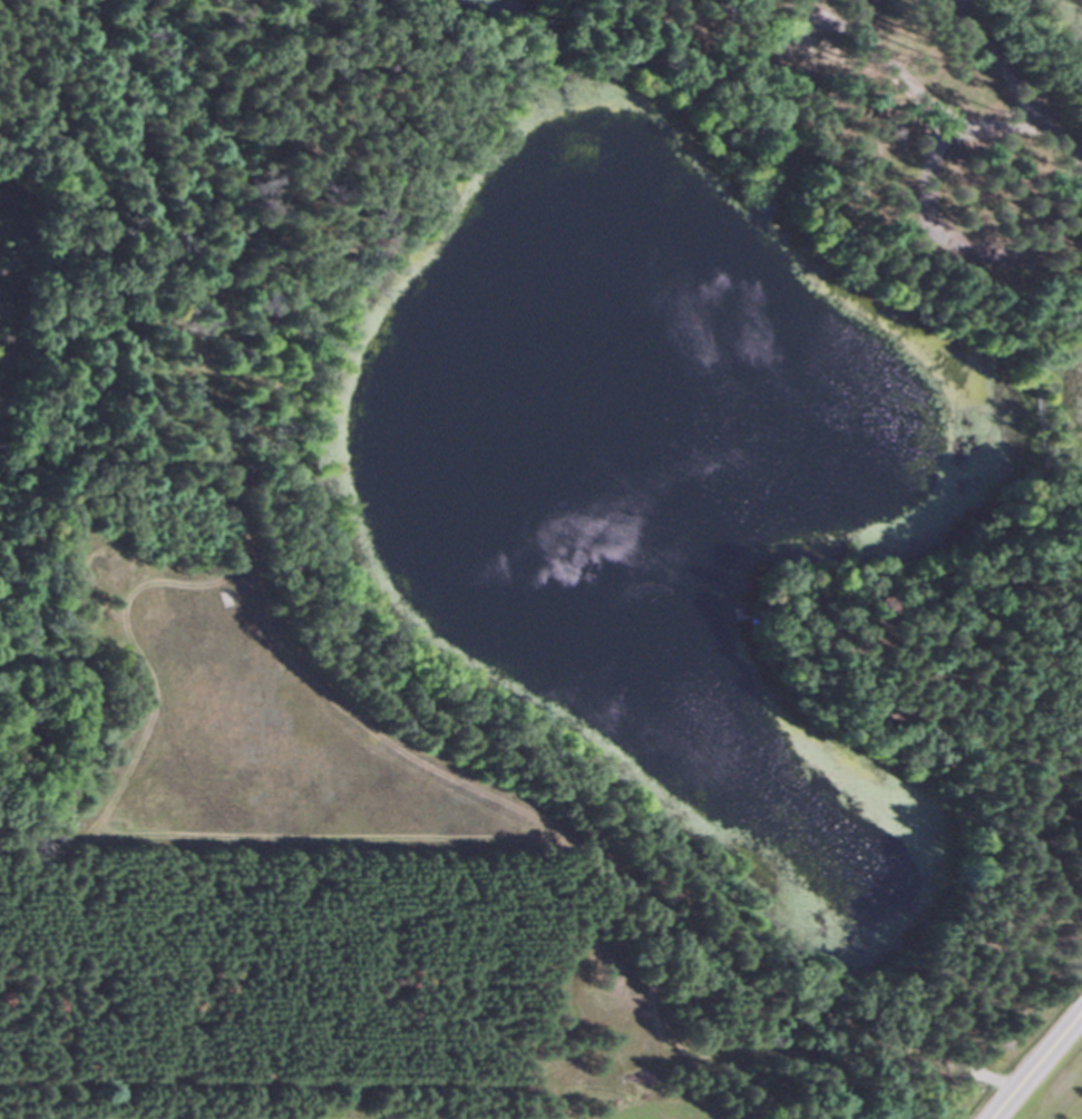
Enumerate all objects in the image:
building: (688, 1)
road: (1013, 87)
road: (1033, 1062)

